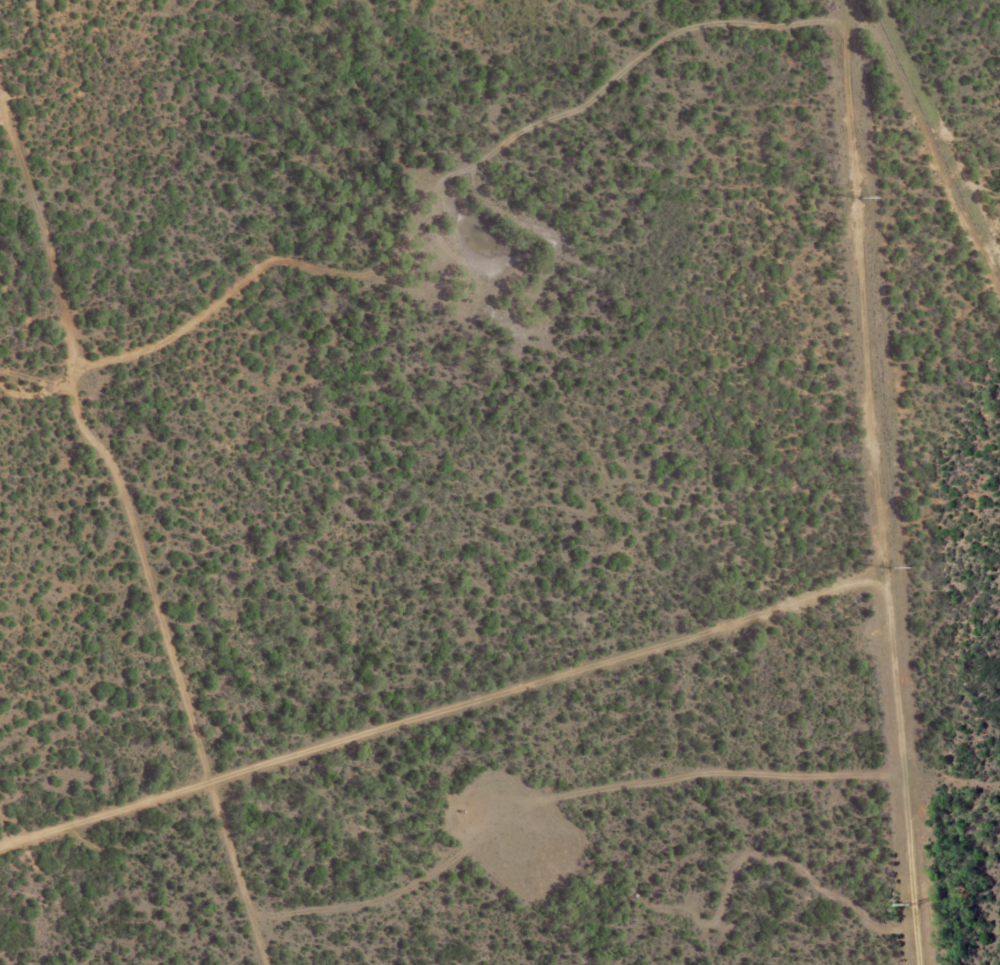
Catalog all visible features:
power tower: (856, 200)
road: (933, 478)
road: (128, 548)
power tower: (886, 568)
power tower: (913, 905)

